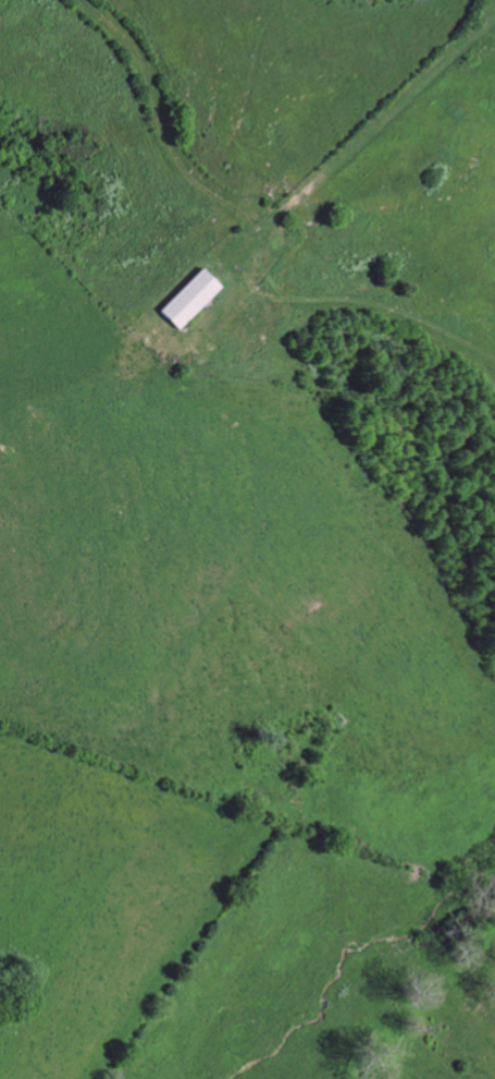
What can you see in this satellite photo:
road: (164, 143)
building: (190, 300)

